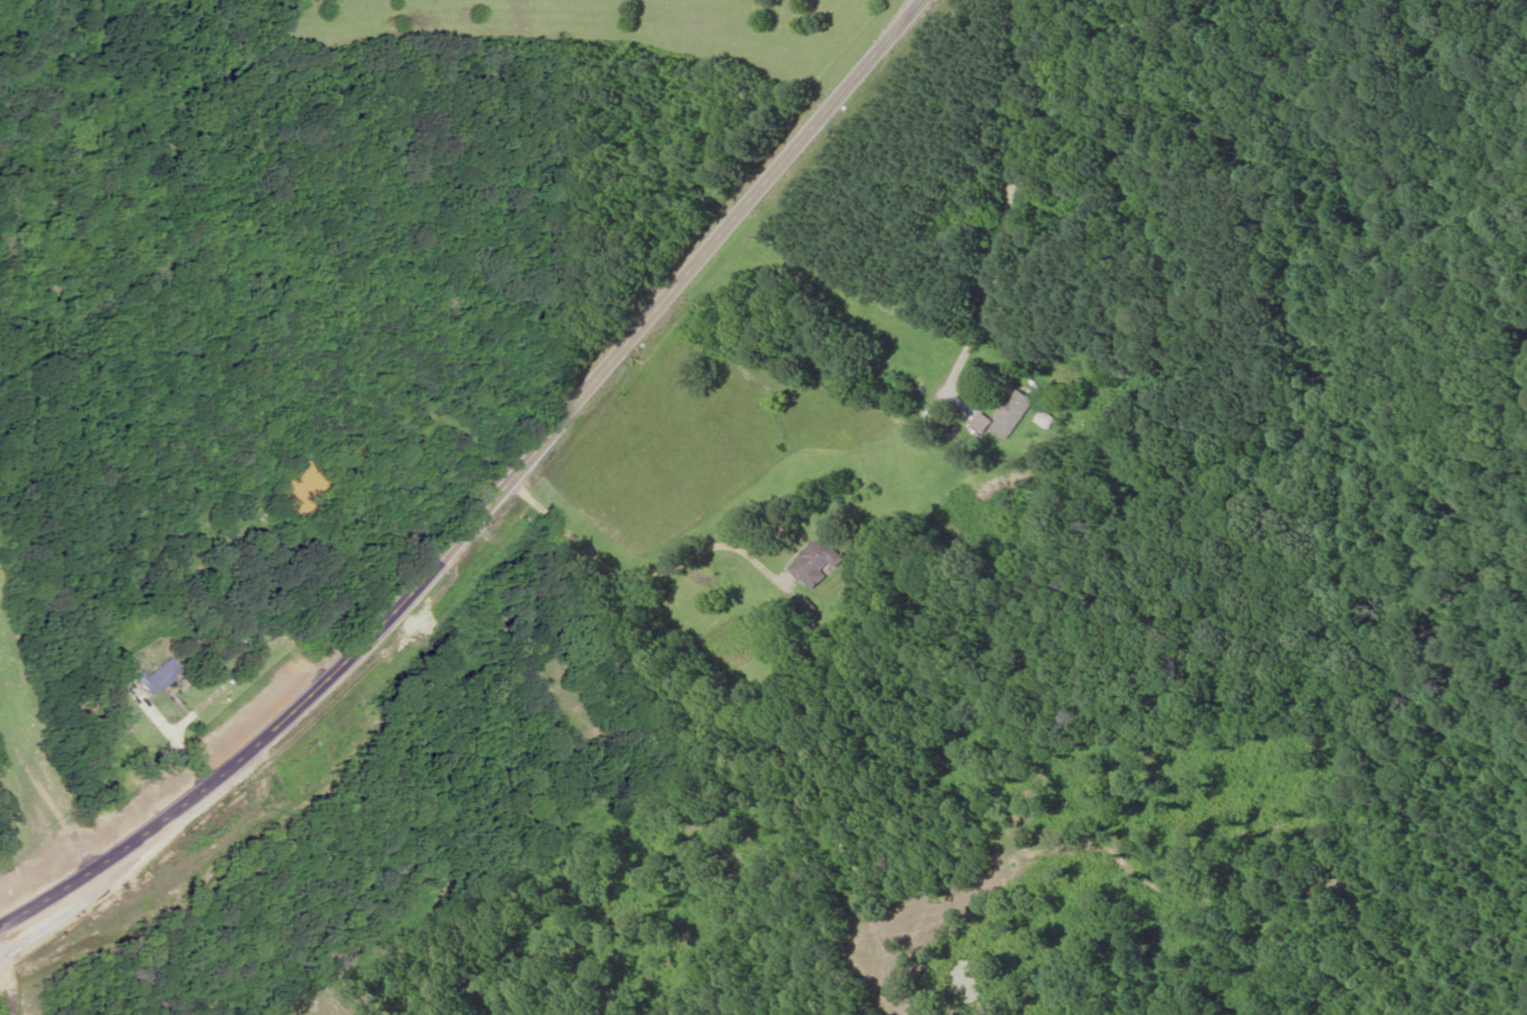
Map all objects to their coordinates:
road: (1013, 201)
building: (1014, 415)
road: (495, 499)
building: (819, 564)
road: (633, 578)

